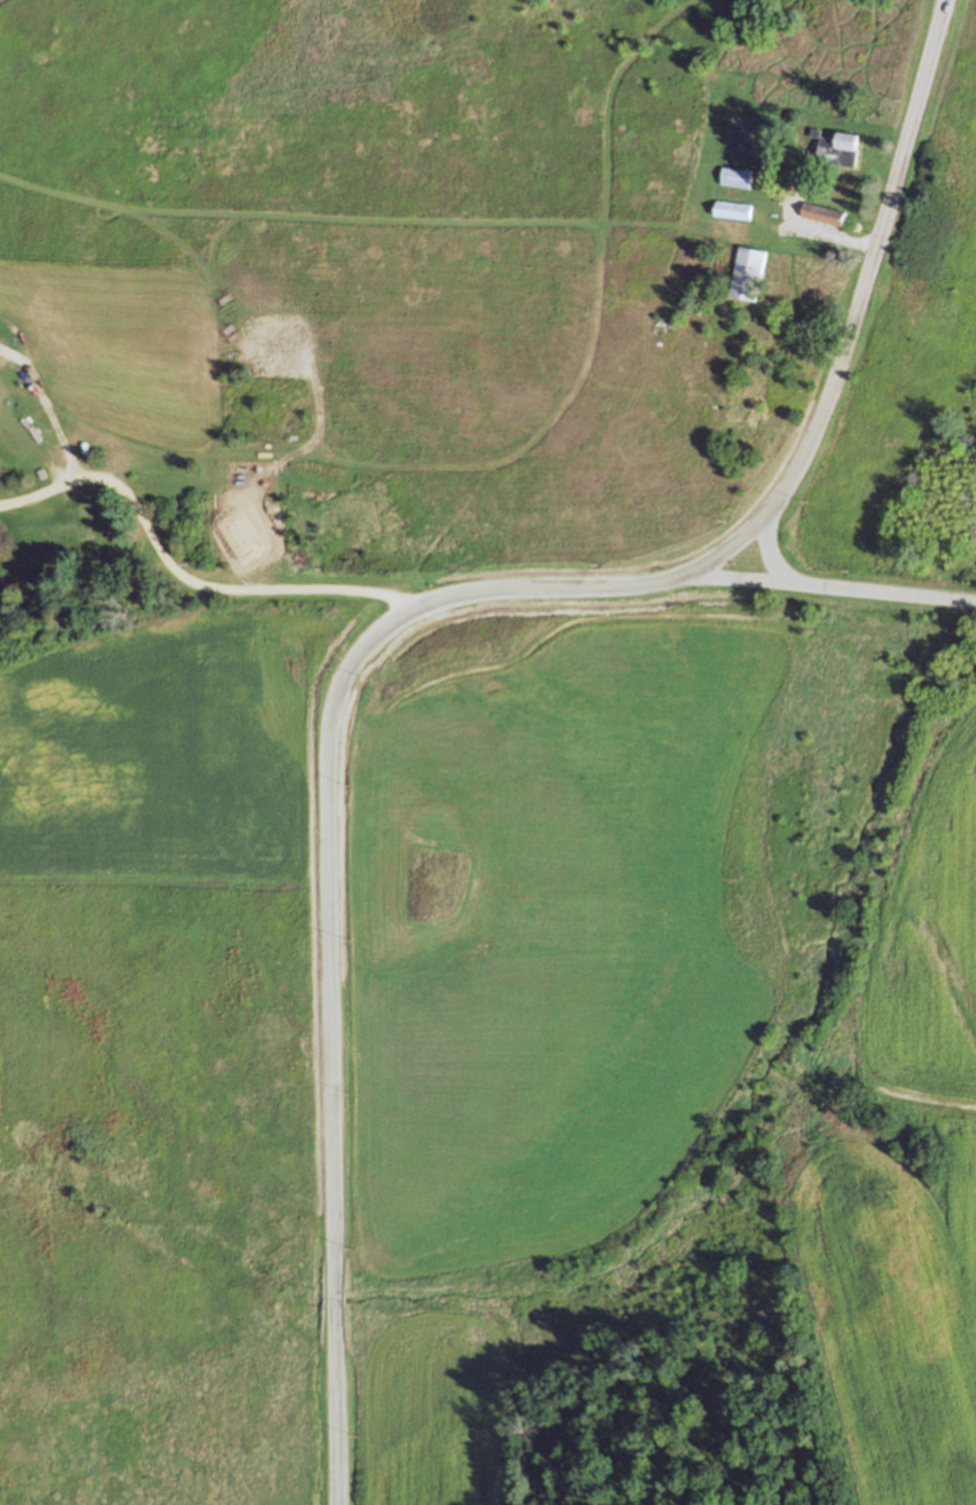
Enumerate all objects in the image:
building: (832, 152)
building: (736, 177)
building: (733, 209)
building: (825, 212)
road: (830, 226)
building: (748, 273)
road: (770, 556)
road: (185, 579)
road: (824, 587)
road: (411, 612)

